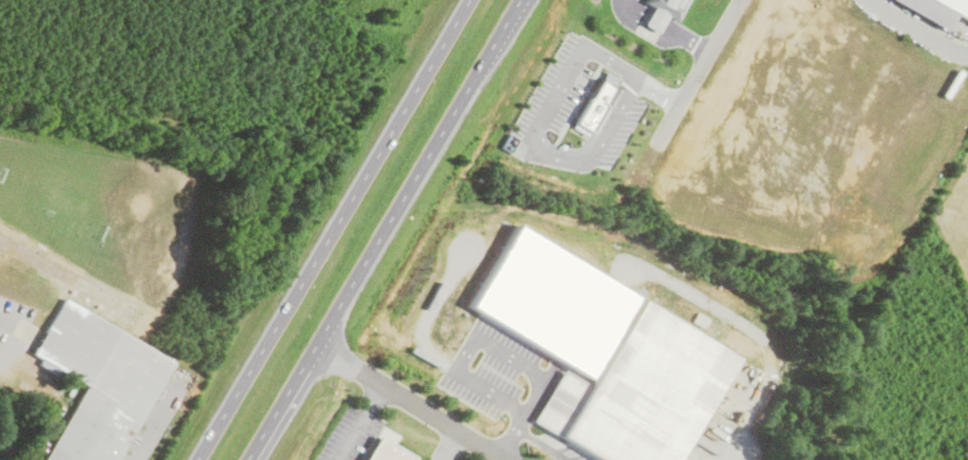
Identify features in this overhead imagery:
building: (955, 6)
building: (663, 11)
road: (728, 28)
road: (914, 35)
road: (711, 56)
road: (633, 74)
building: (594, 104)
road: (541, 156)
crop: (959, 213)
road: (333, 229)
road: (386, 229)
road: (12, 324)
road: (490, 343)
building: (98, 382)
building: (638, 391)
road: (374, 397)
road: (413, 402)
road: (155, 417)
road: (352, 435)
road: (542, 441)
building: (383, 450)
road: (728, 457)

